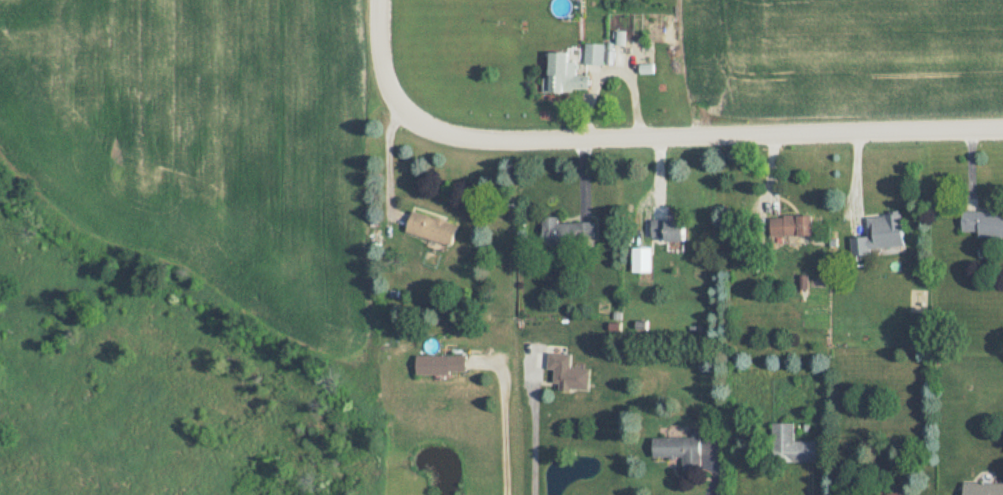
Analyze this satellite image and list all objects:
building: (594, 53)
building: (564, 73)
road: (641, 128)
road: (388, 154)
building: (982, 222)
building: (791, 224)
building: (432, 227)
building: (667, 228)
building: (567, 231)
building: (441, 363)
building: (568, 373)
road: (507, 416)
road: (533, 426)
building: (791, 445)
building: (680, 450)
road: (716, 472)
road: (811, 480)
building: (983, 488)

